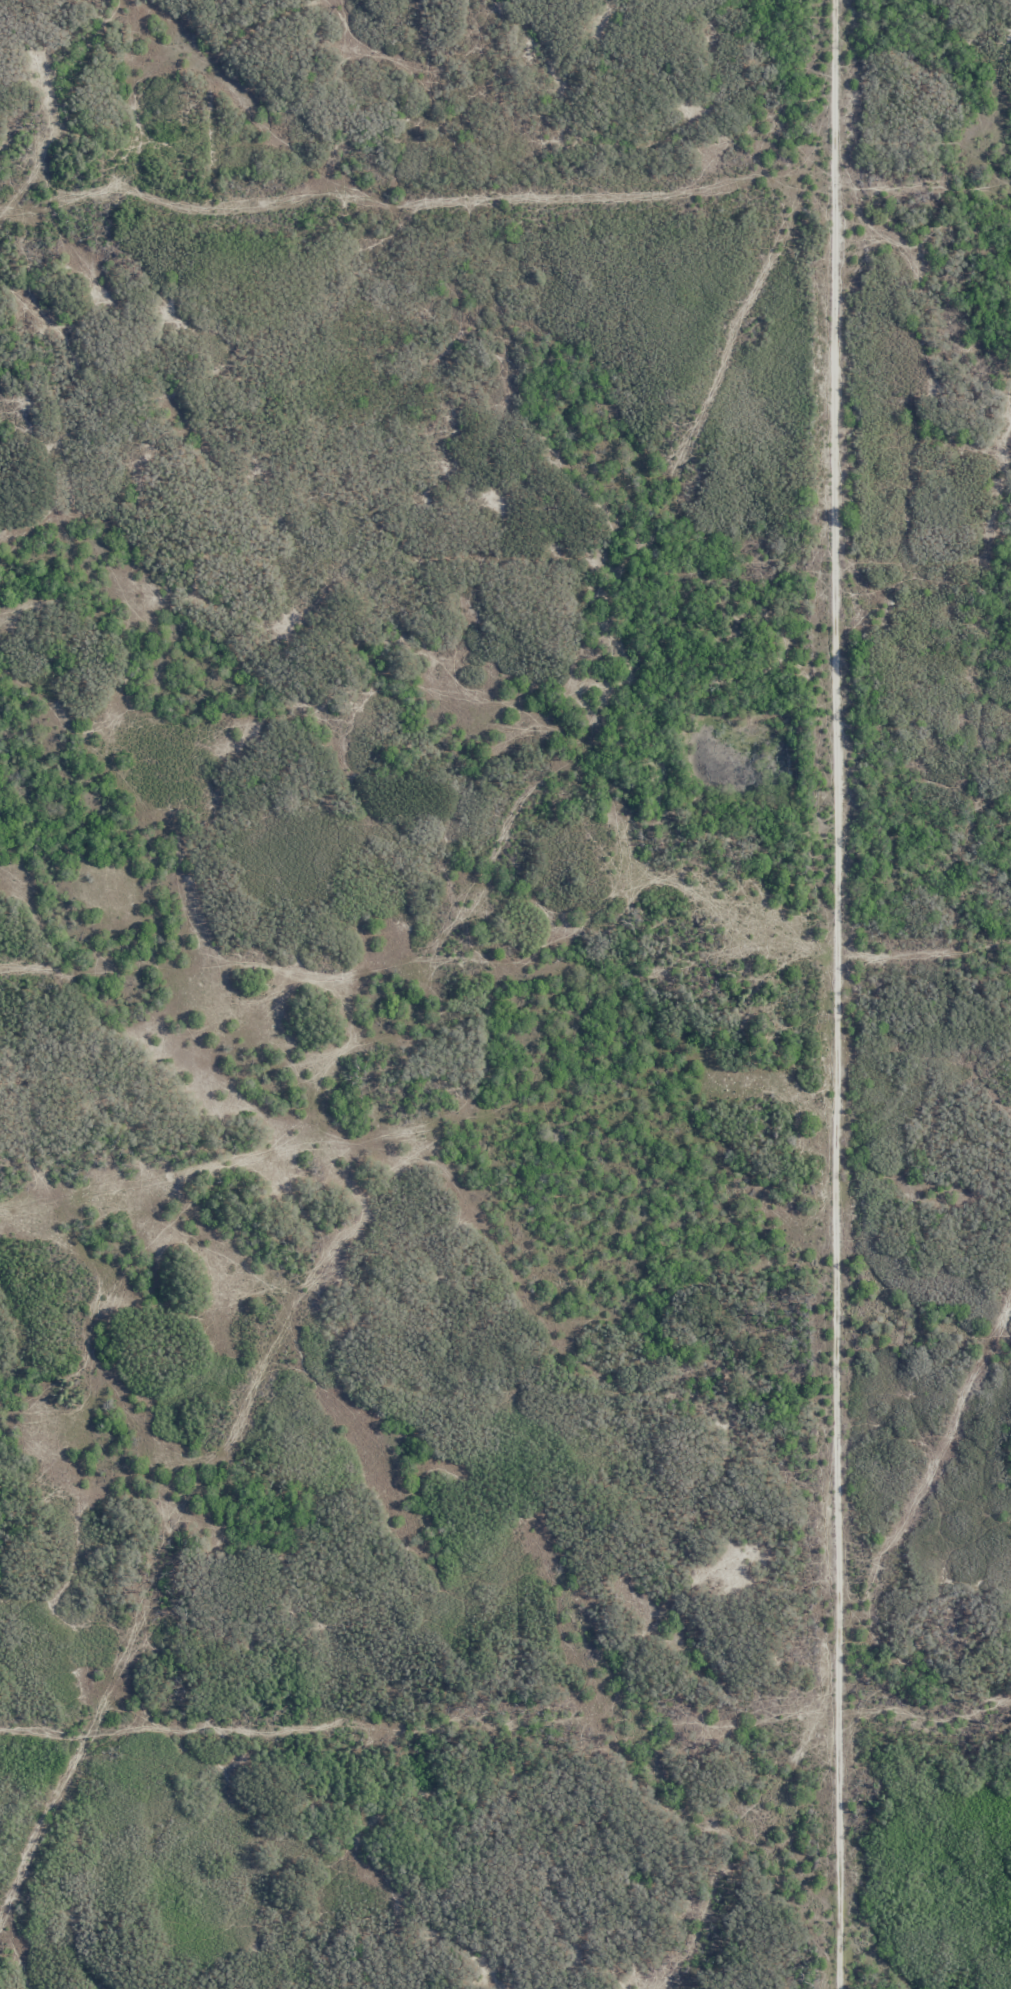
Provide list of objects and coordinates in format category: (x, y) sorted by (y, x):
road: (836, 994)

